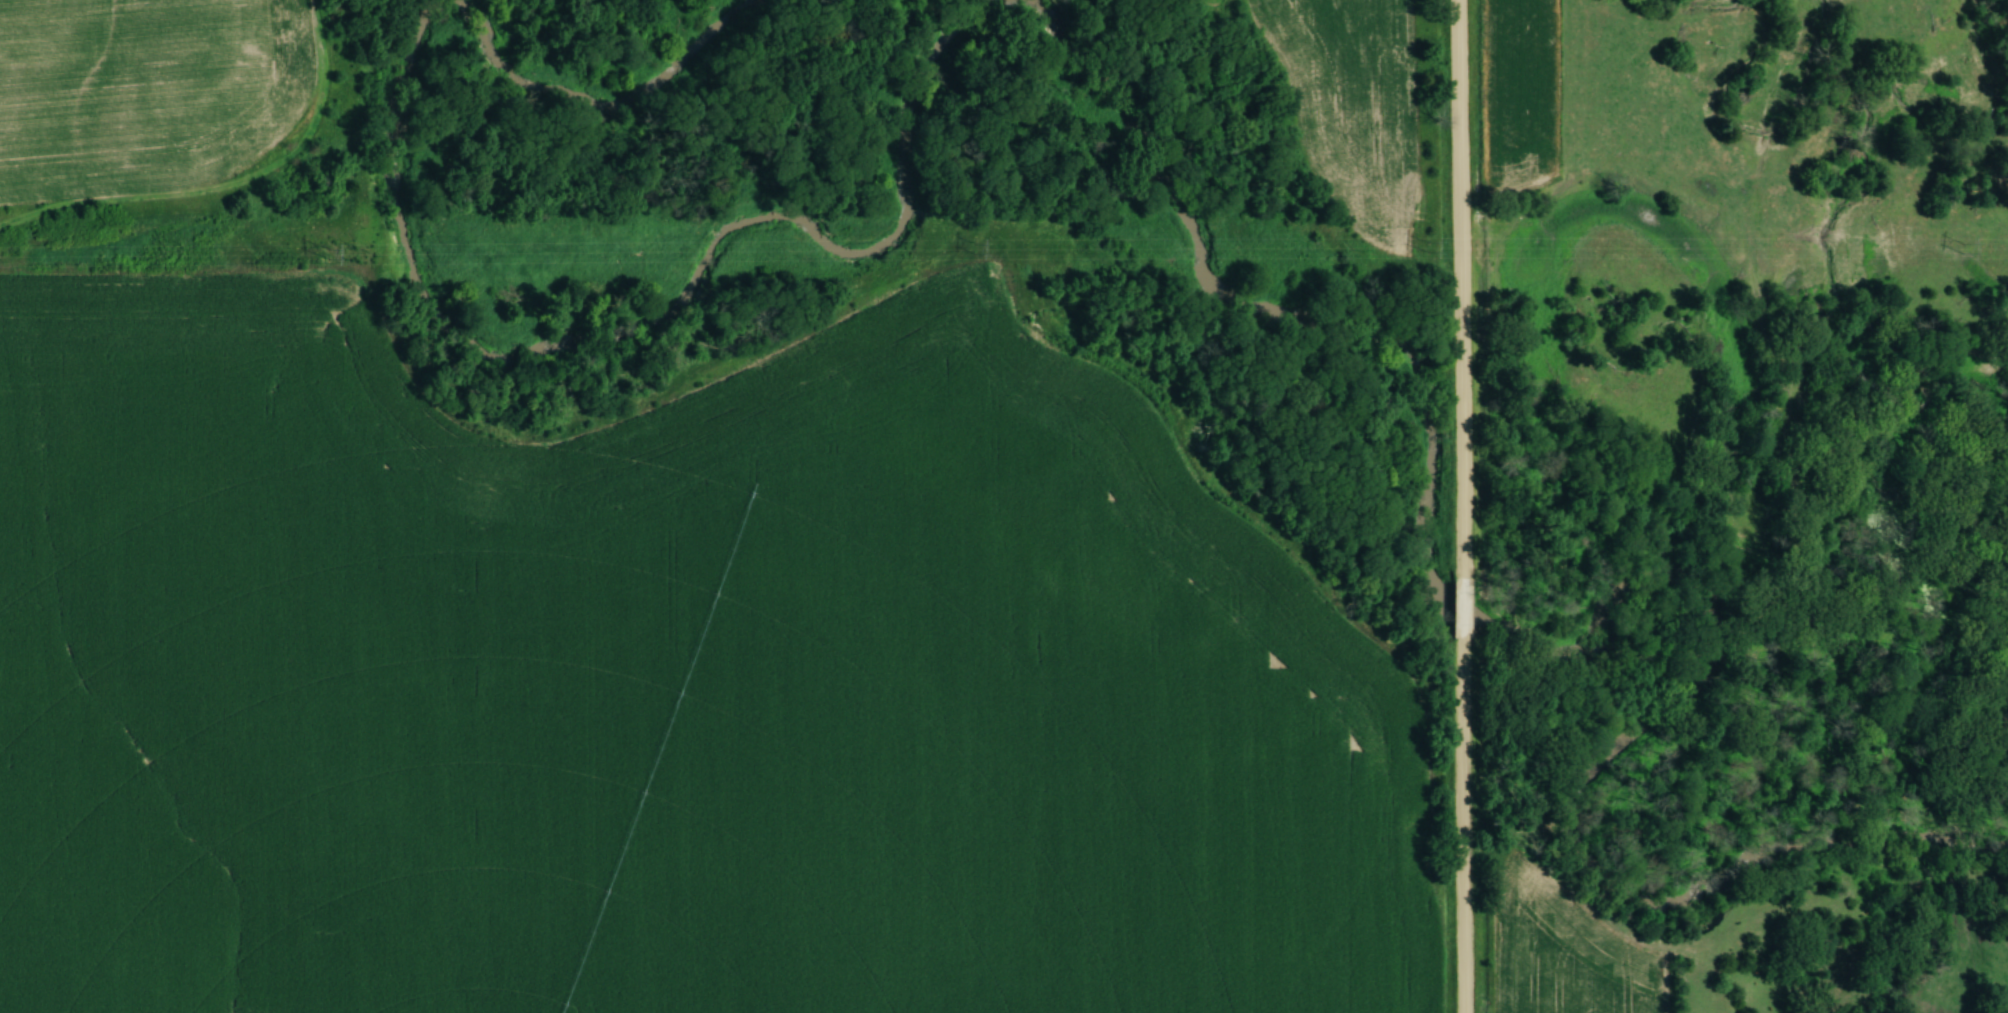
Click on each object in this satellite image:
power tower: (1428, 248)
power tower: (975, 250)
power tower: (1962, 250)
power tower: (330, 255)
road: (1462, 288)
road: (1464, 615)
road: (1464, 832)

